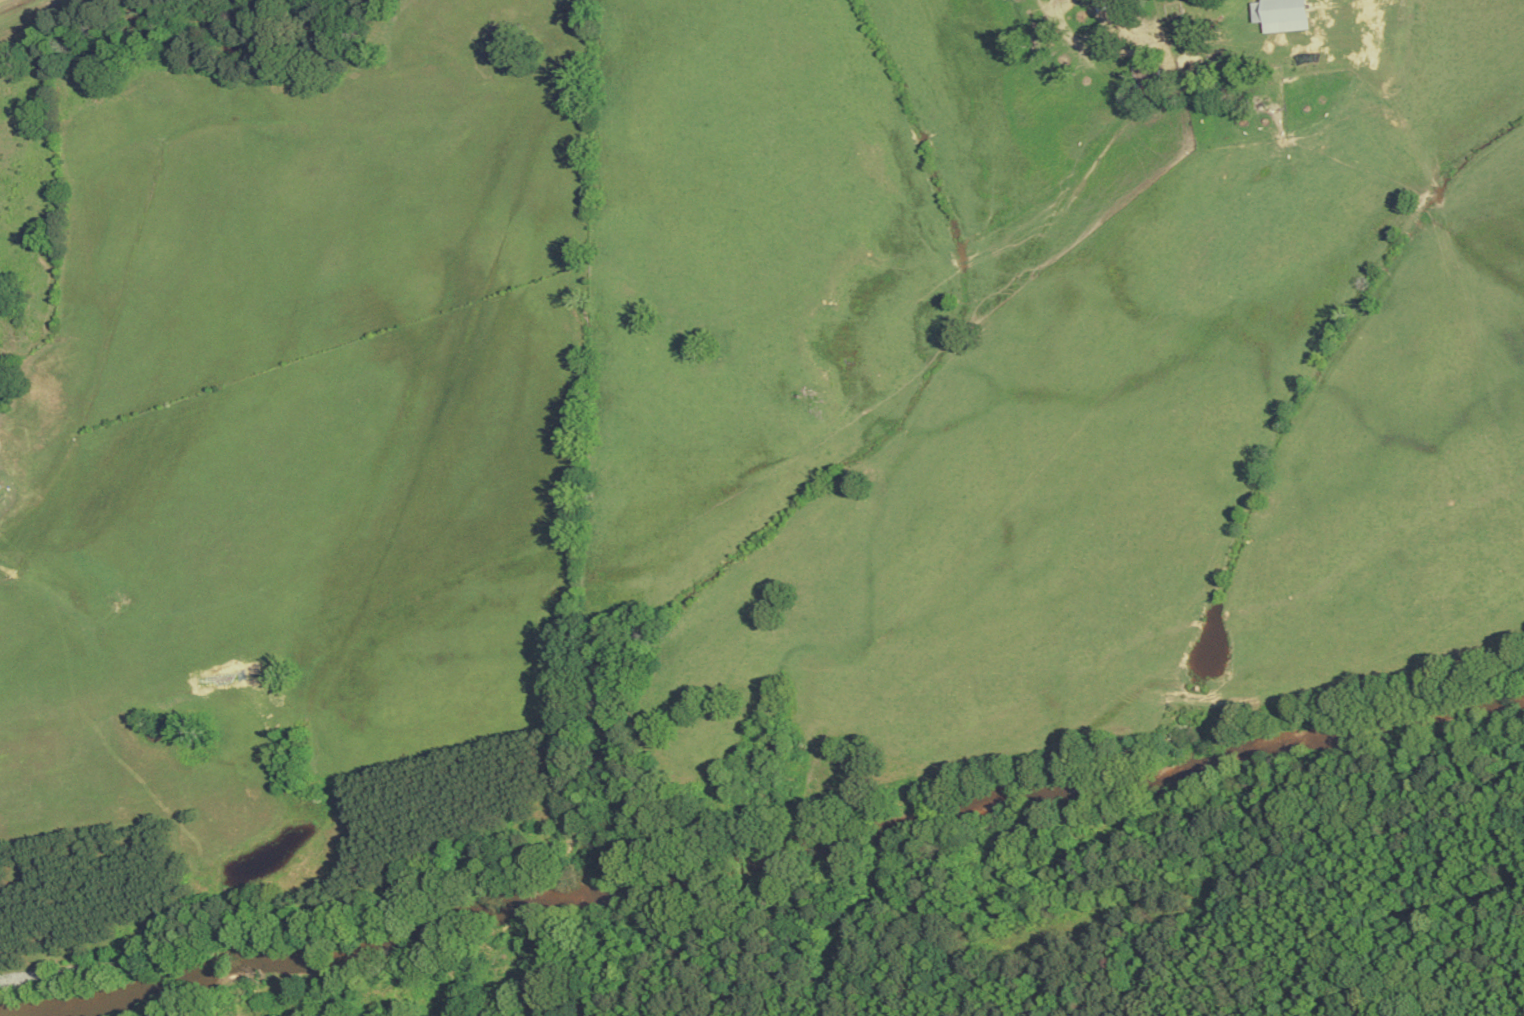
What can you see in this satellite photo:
building: (1104, 5)
building: (1286, 10)
building: (1401, 46)

